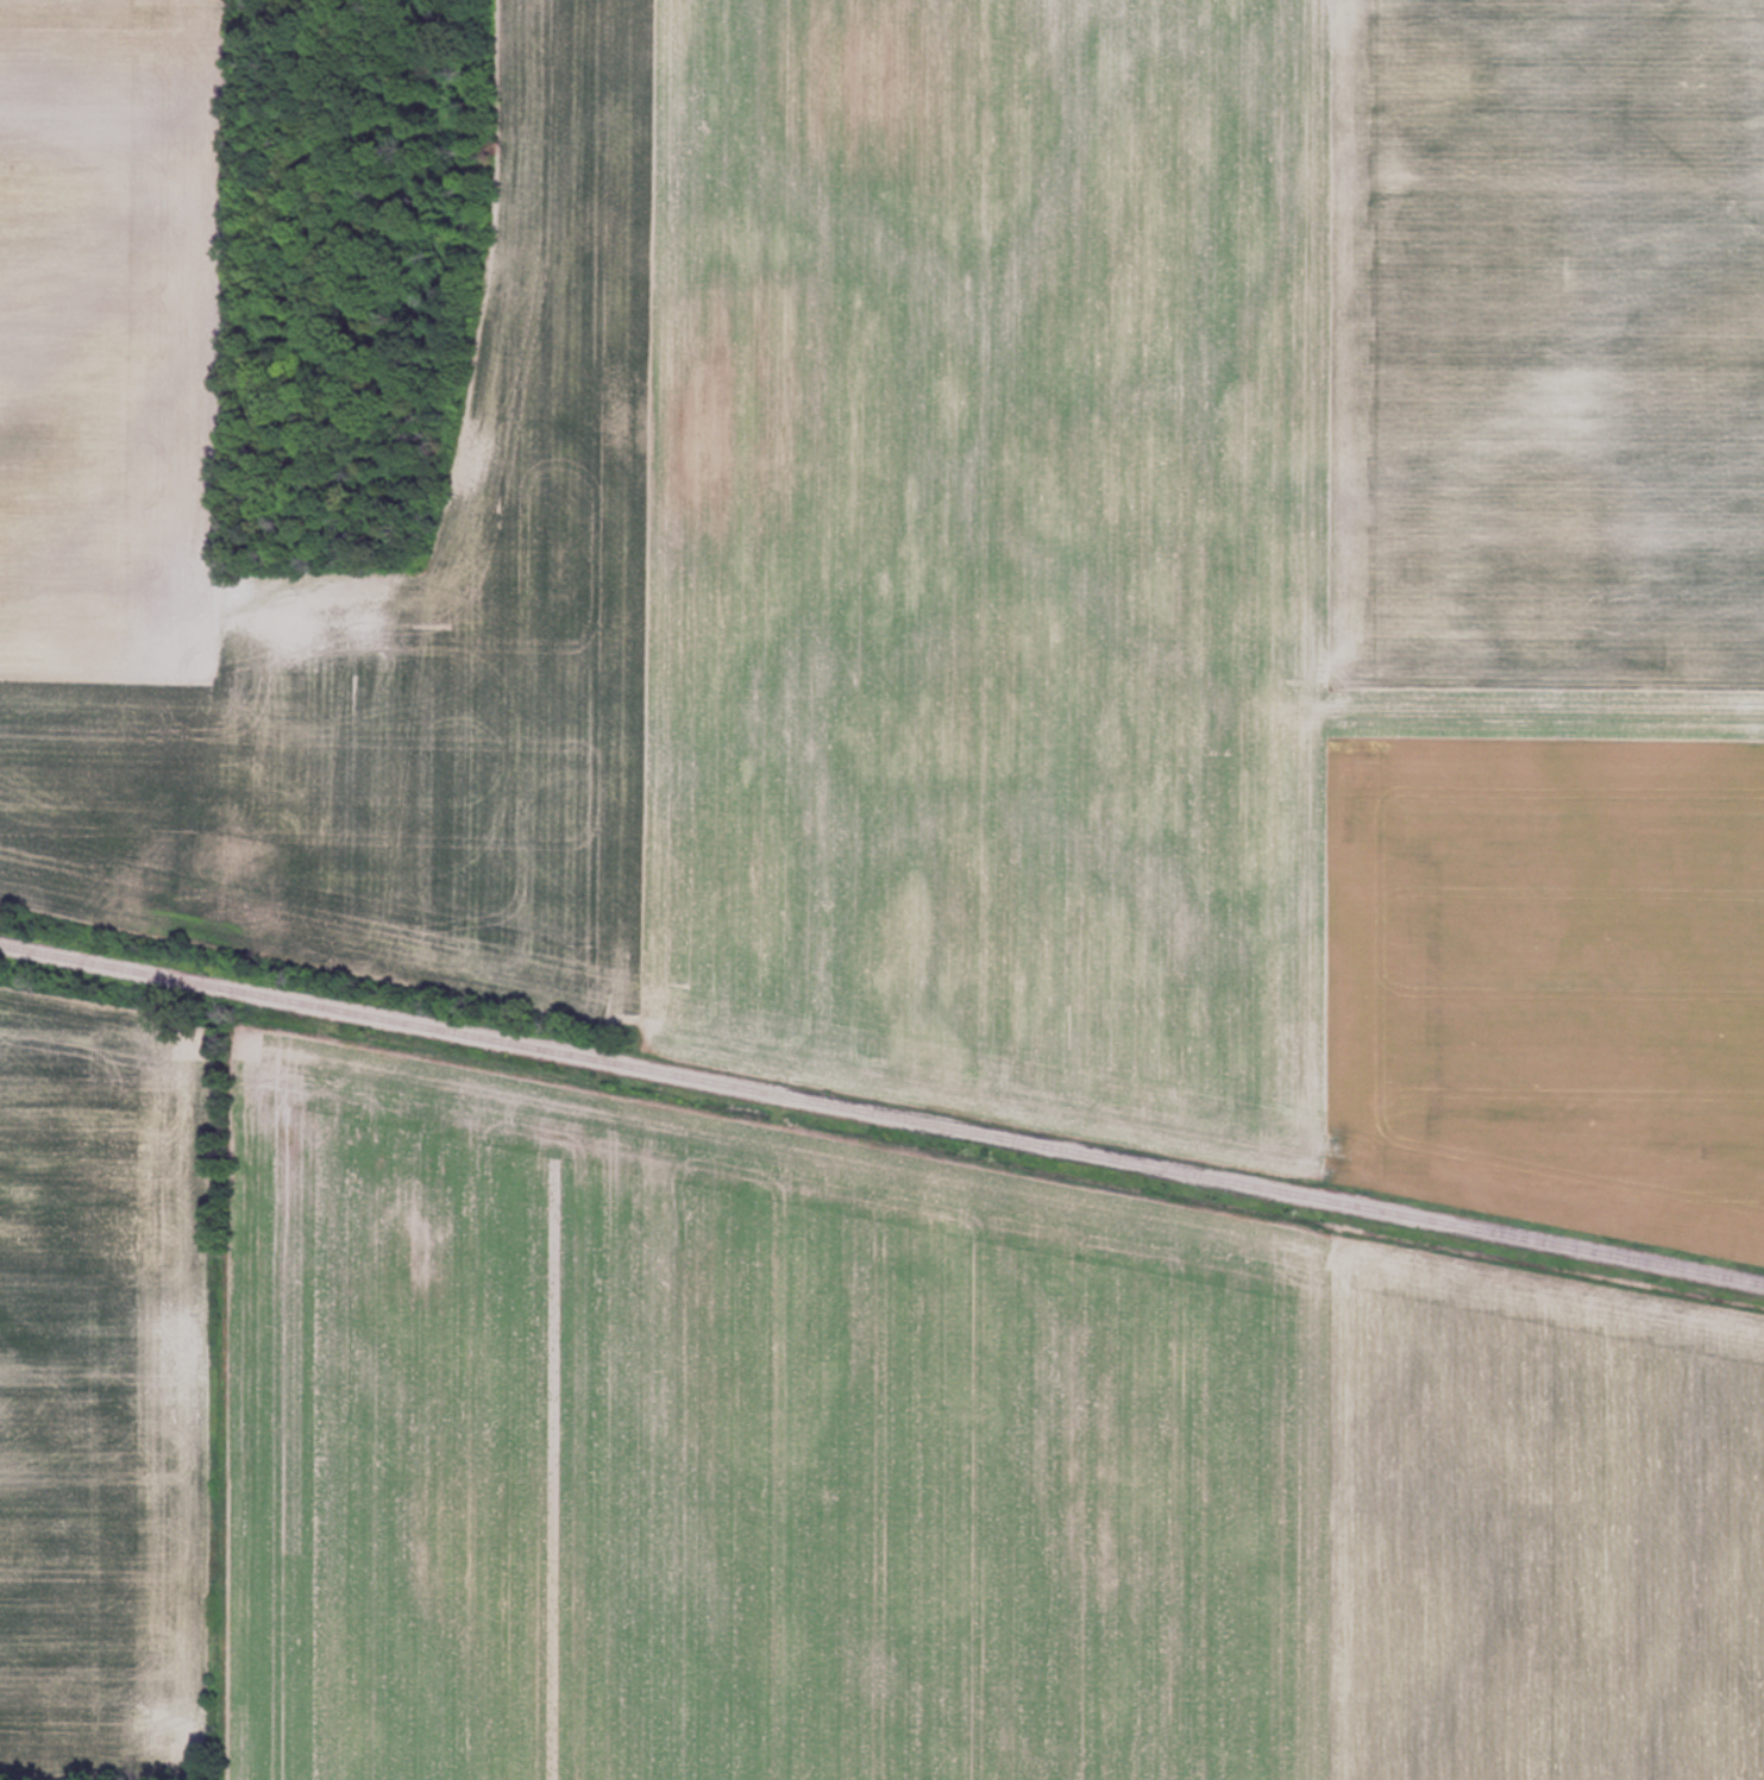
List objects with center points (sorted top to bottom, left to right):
railway: (881, 1114)

